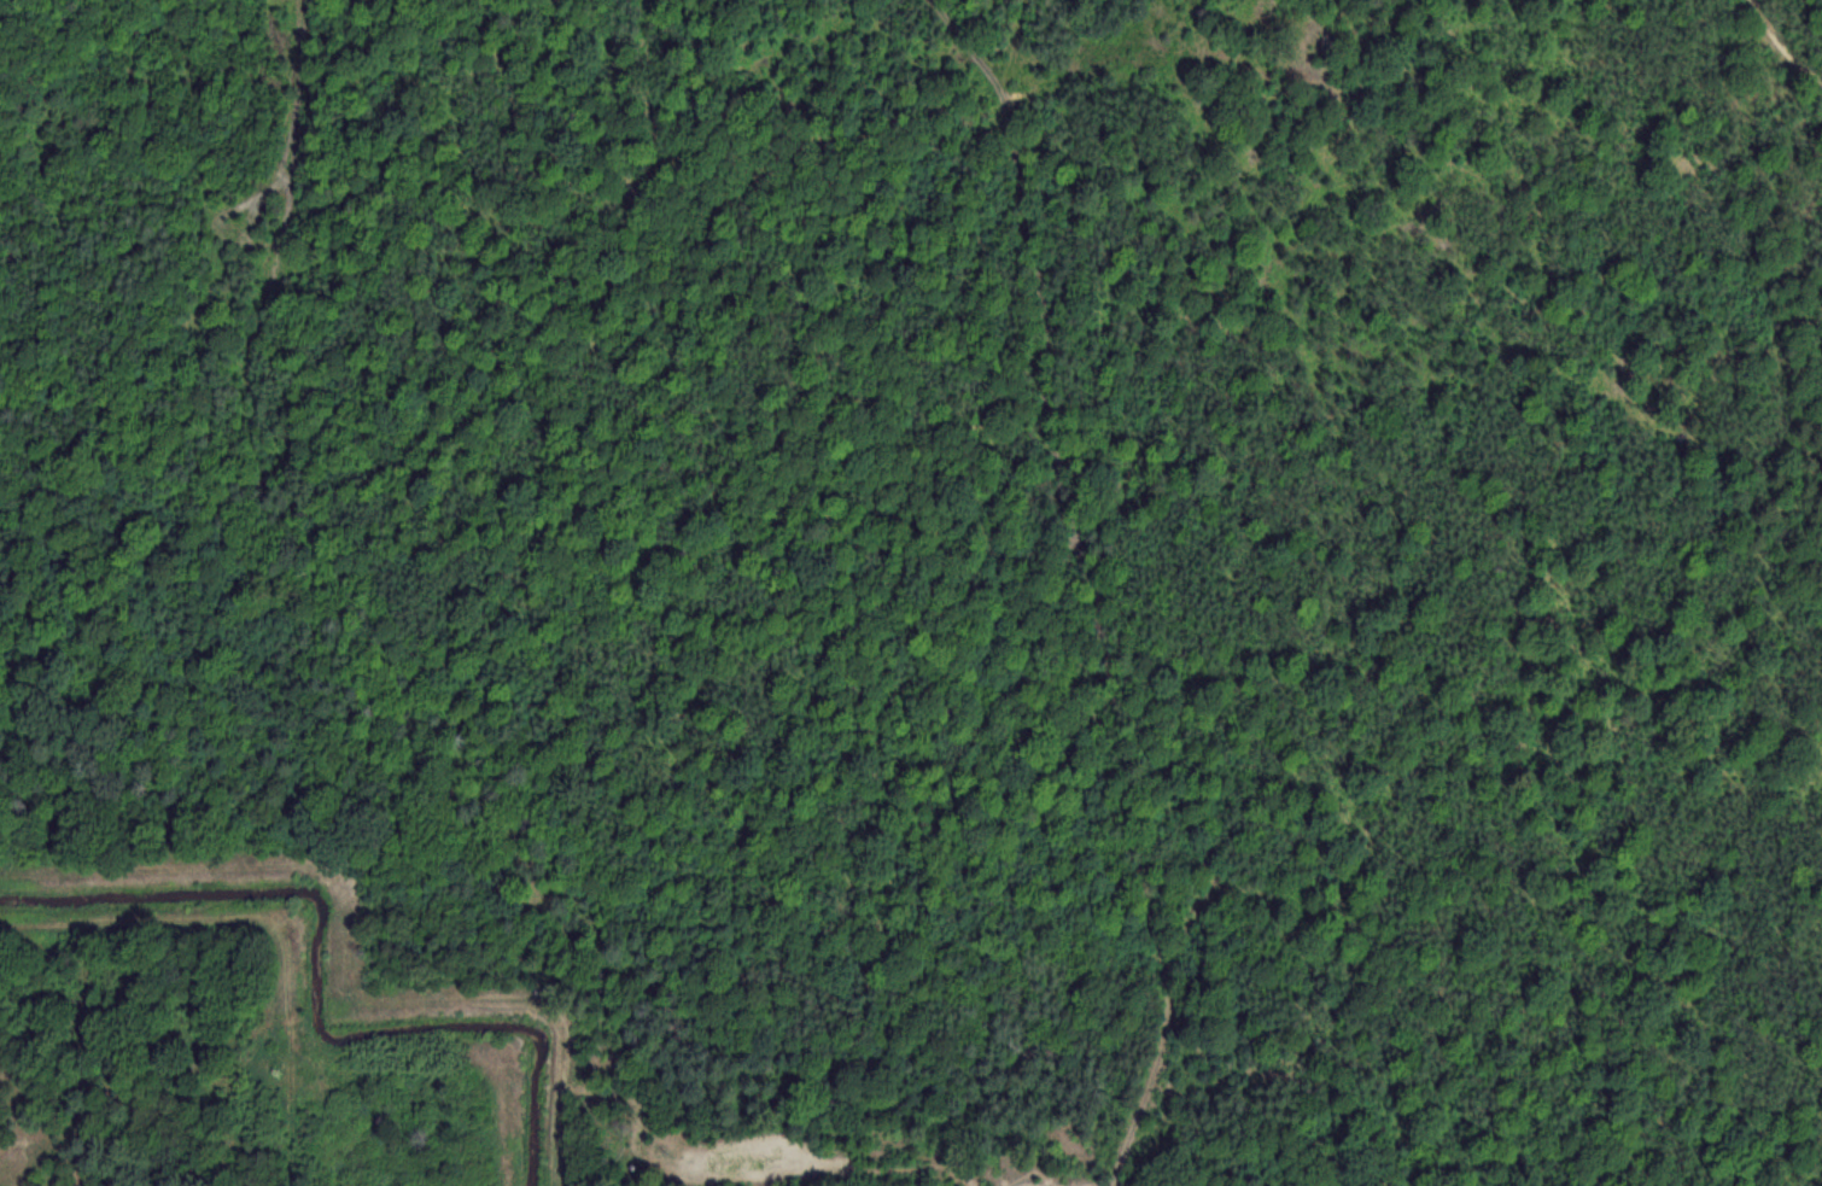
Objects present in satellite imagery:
road: (1777, 49)

